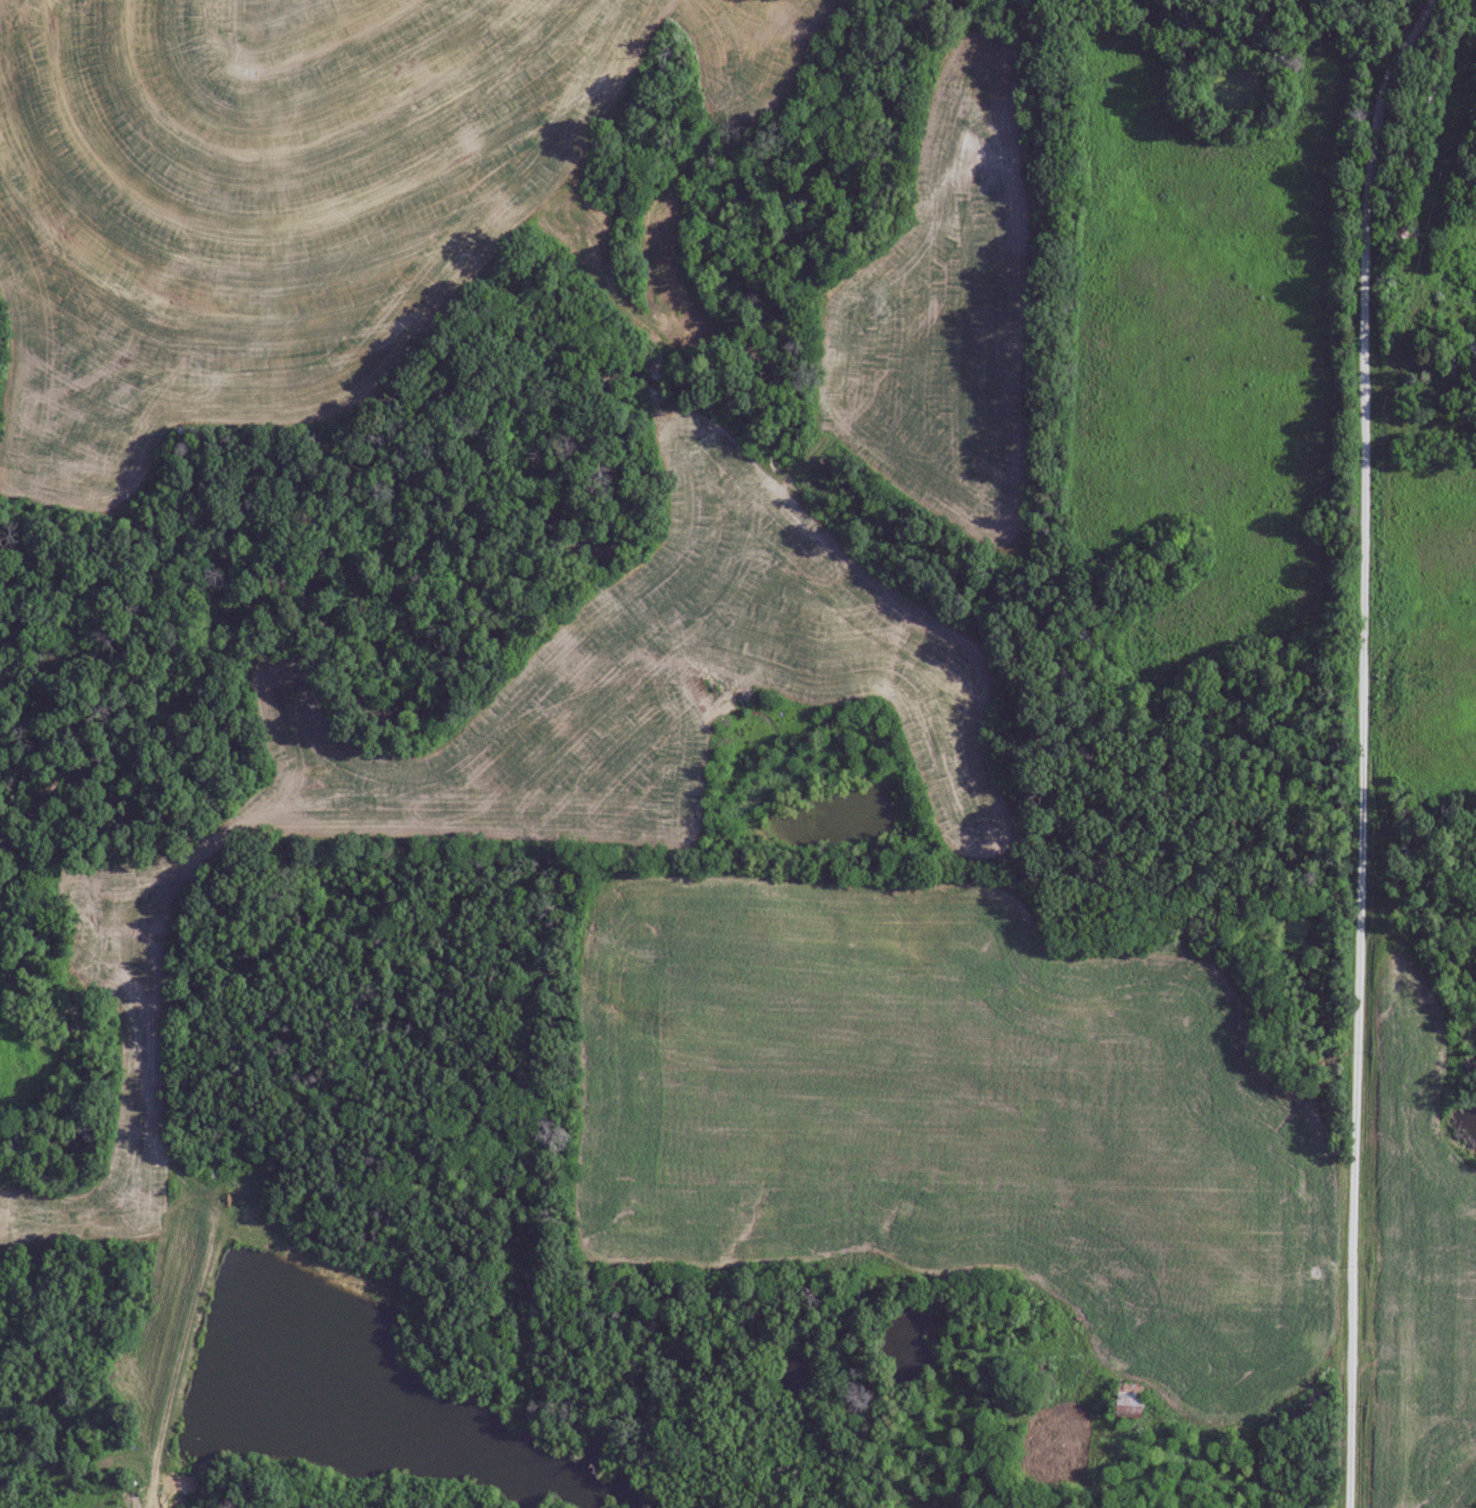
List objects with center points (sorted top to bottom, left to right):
road: (1357, 747)
park: (1075, 910)

